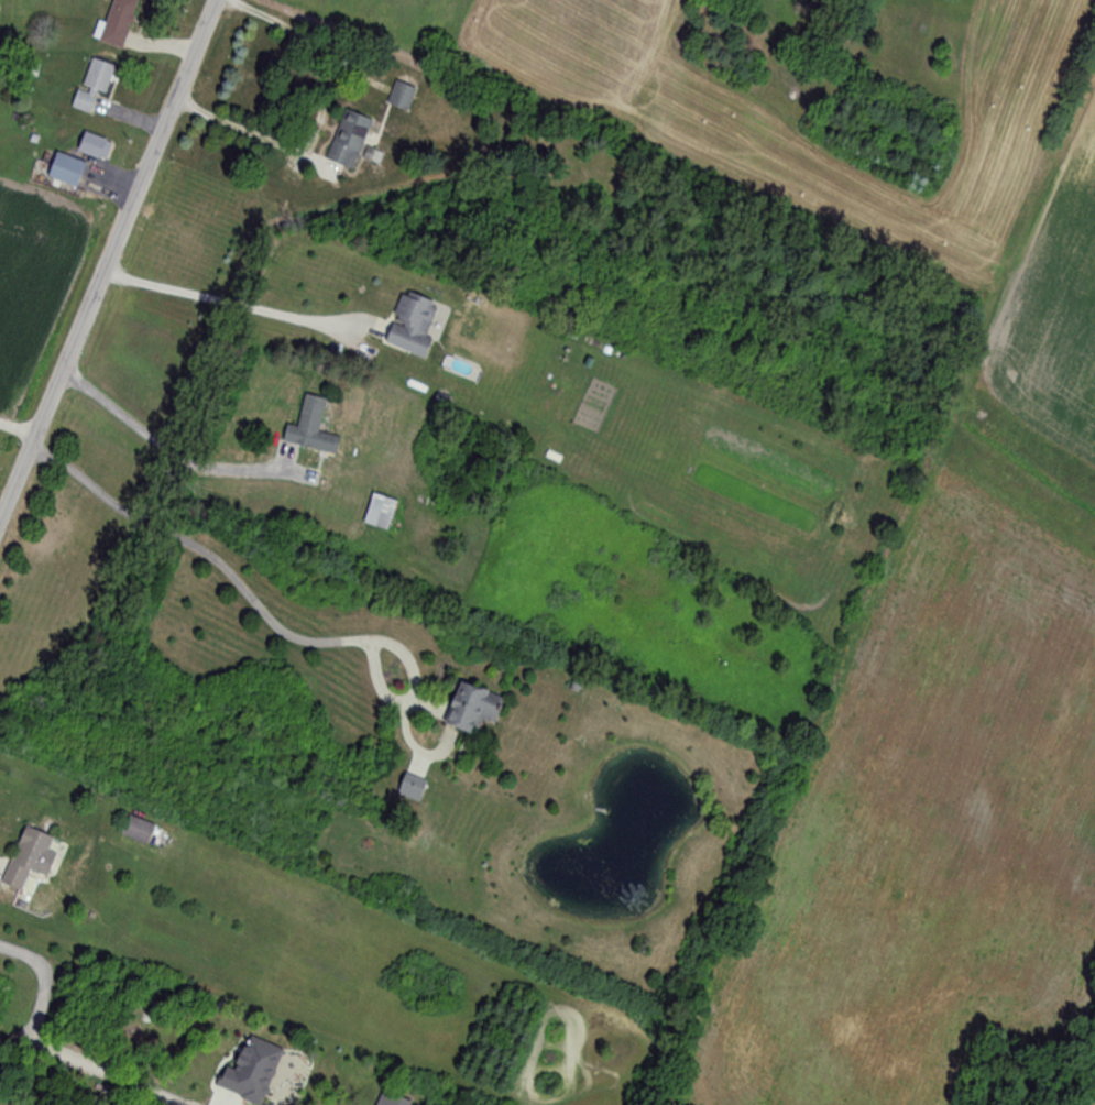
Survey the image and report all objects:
building: (117, 22)
building: (92, 84)
road: (322, 118)
building: (348, 139)
building: (92, 145)
building: (64, 169)
road: (110, 260)
road: (220, 305)
building: (410, 324)
crop: (1052, 349)
building: (309, 427)
road: (15, 439)
road: (162, 449)
building: (377, 511)
road: (264, 612)
building: (470, 709)
building: (136, 830)
crop: (934, 830)
building: (28, 857)
road: (36, 1053)

